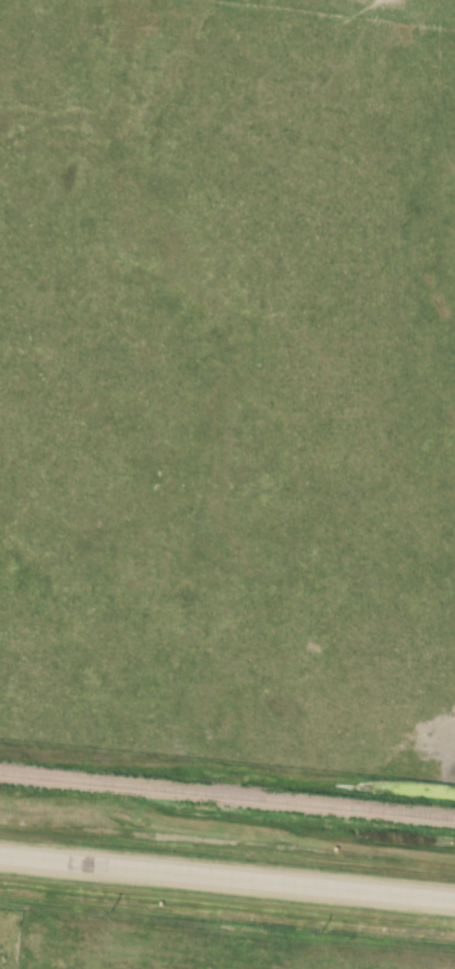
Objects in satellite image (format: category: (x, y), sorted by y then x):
railway: (227, 796)
road: (227, 875)

